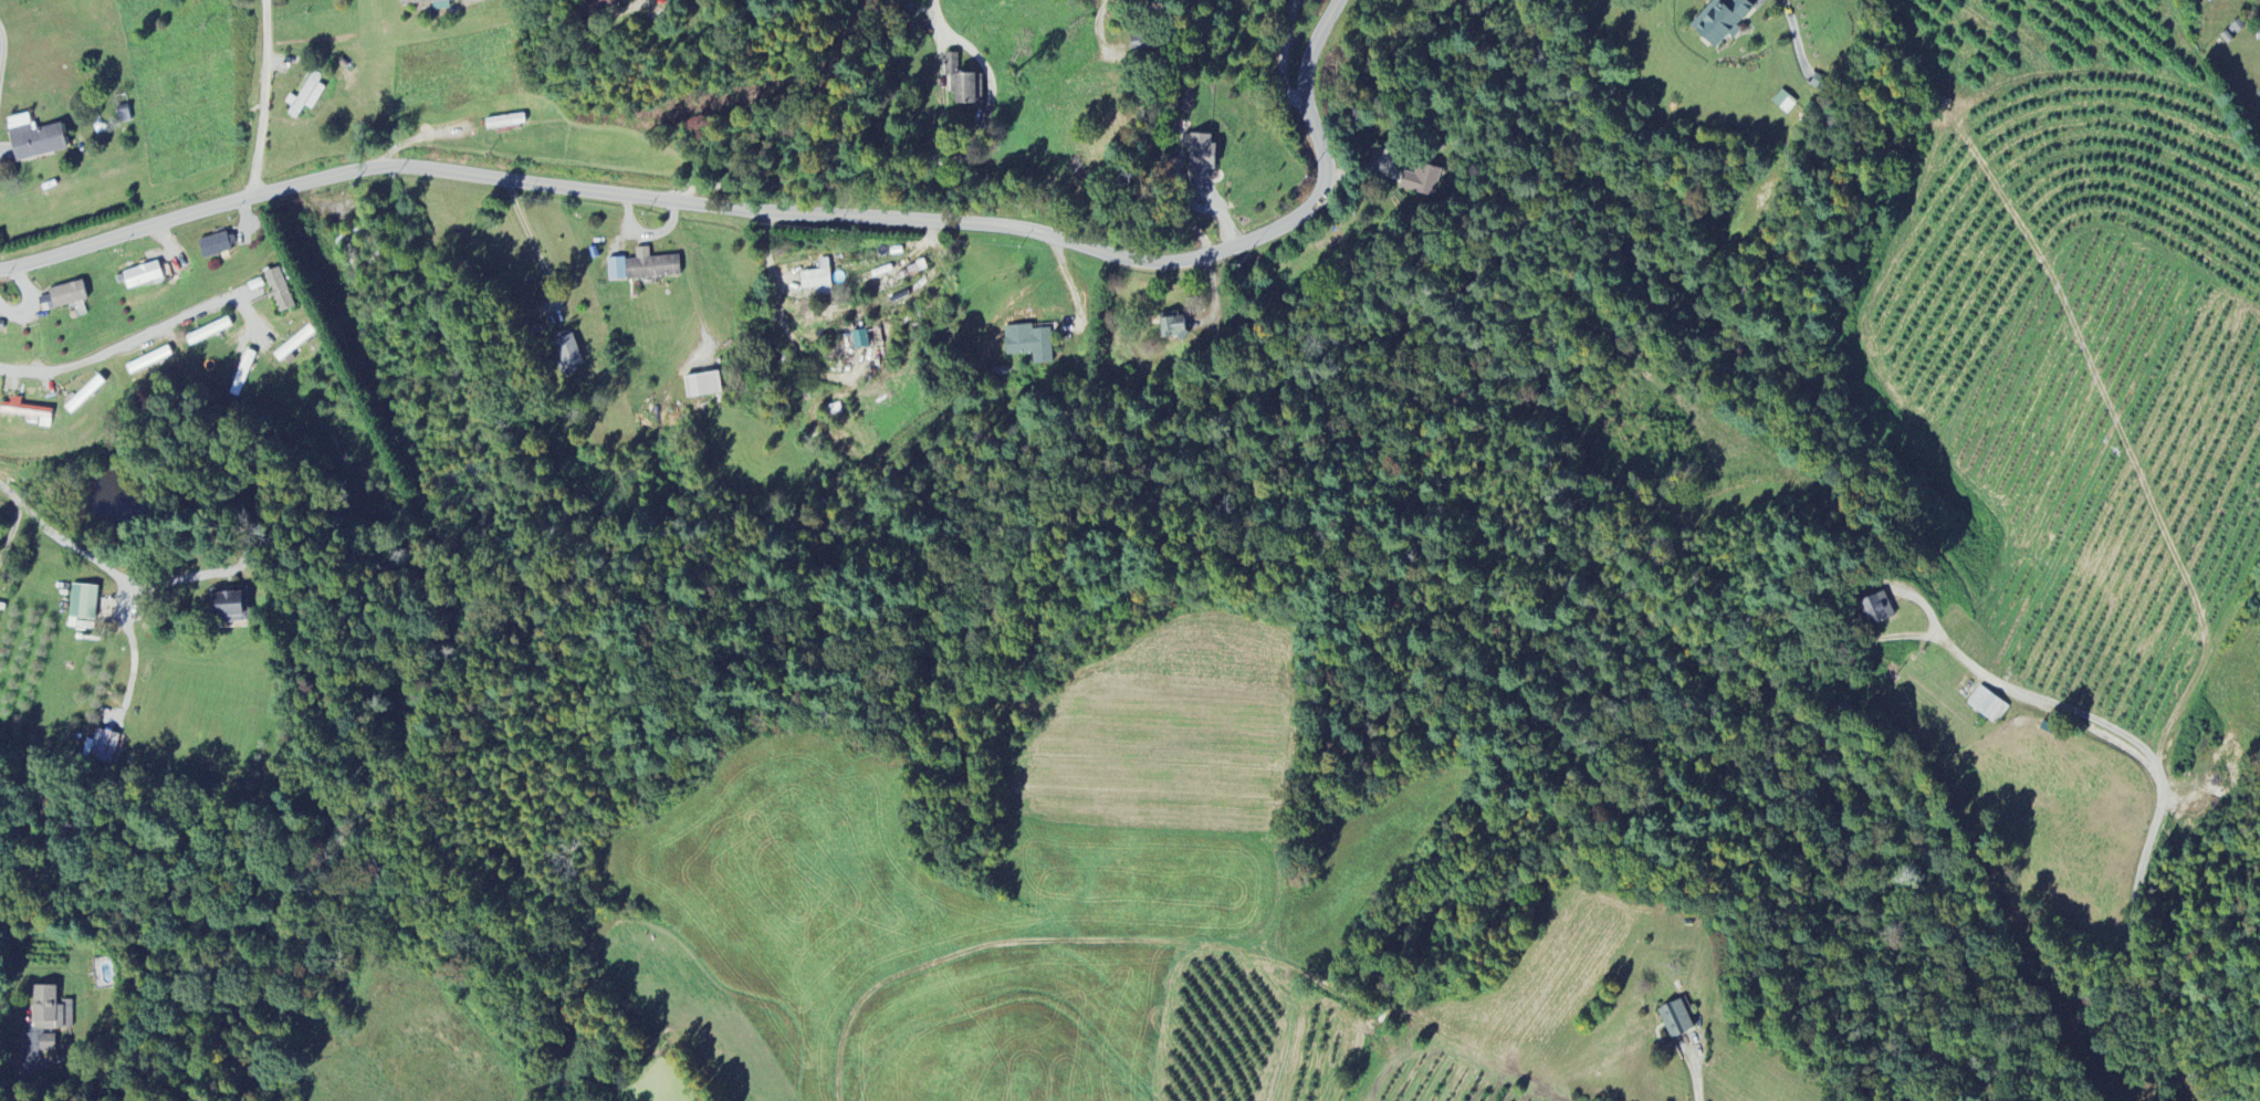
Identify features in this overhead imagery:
building: (428, 4)
building: (596, 4)
building: (1720, 21)
road: (1796, 35)
building: (2259, 40)
road: (1, 49)
building: (963, 82)
road: (1163, 87)
building: (2259, 95)
building: (305, 96)
road: (264, 97)
building: (1783, 103)
building: (32, 138)
building: (1199, 156)
road: (864, 181)
building: (1422, 181)
road: (768, 209)
road: (532, 243)
building: (217, 245)
building: (651, 266)
building: (616, 270)
building: (143, 276)
building: (817, 281)
building: (280, 291)
building: (67, 295)
building: (1172, 327)
building: (209, 333)
building: (859, 340)
building: (1029, 344)
road: (113, 347)
building: (567, 352)
building: (242, 375)
building: (702, 386)
building: (84, 396)
building: (27, 412)
road: (62, 538)
building: (82, 605)
building: (229, 607)
building: (1876, 610)
road: (134, 656)
building: (1987, 706)
building: (101, 747)
road: (2162, 785)
building: (50, 1010)
building: (1675, 1020)
building: (46, 1044)
road: (21, 1052)
road: (1694, 1072)

